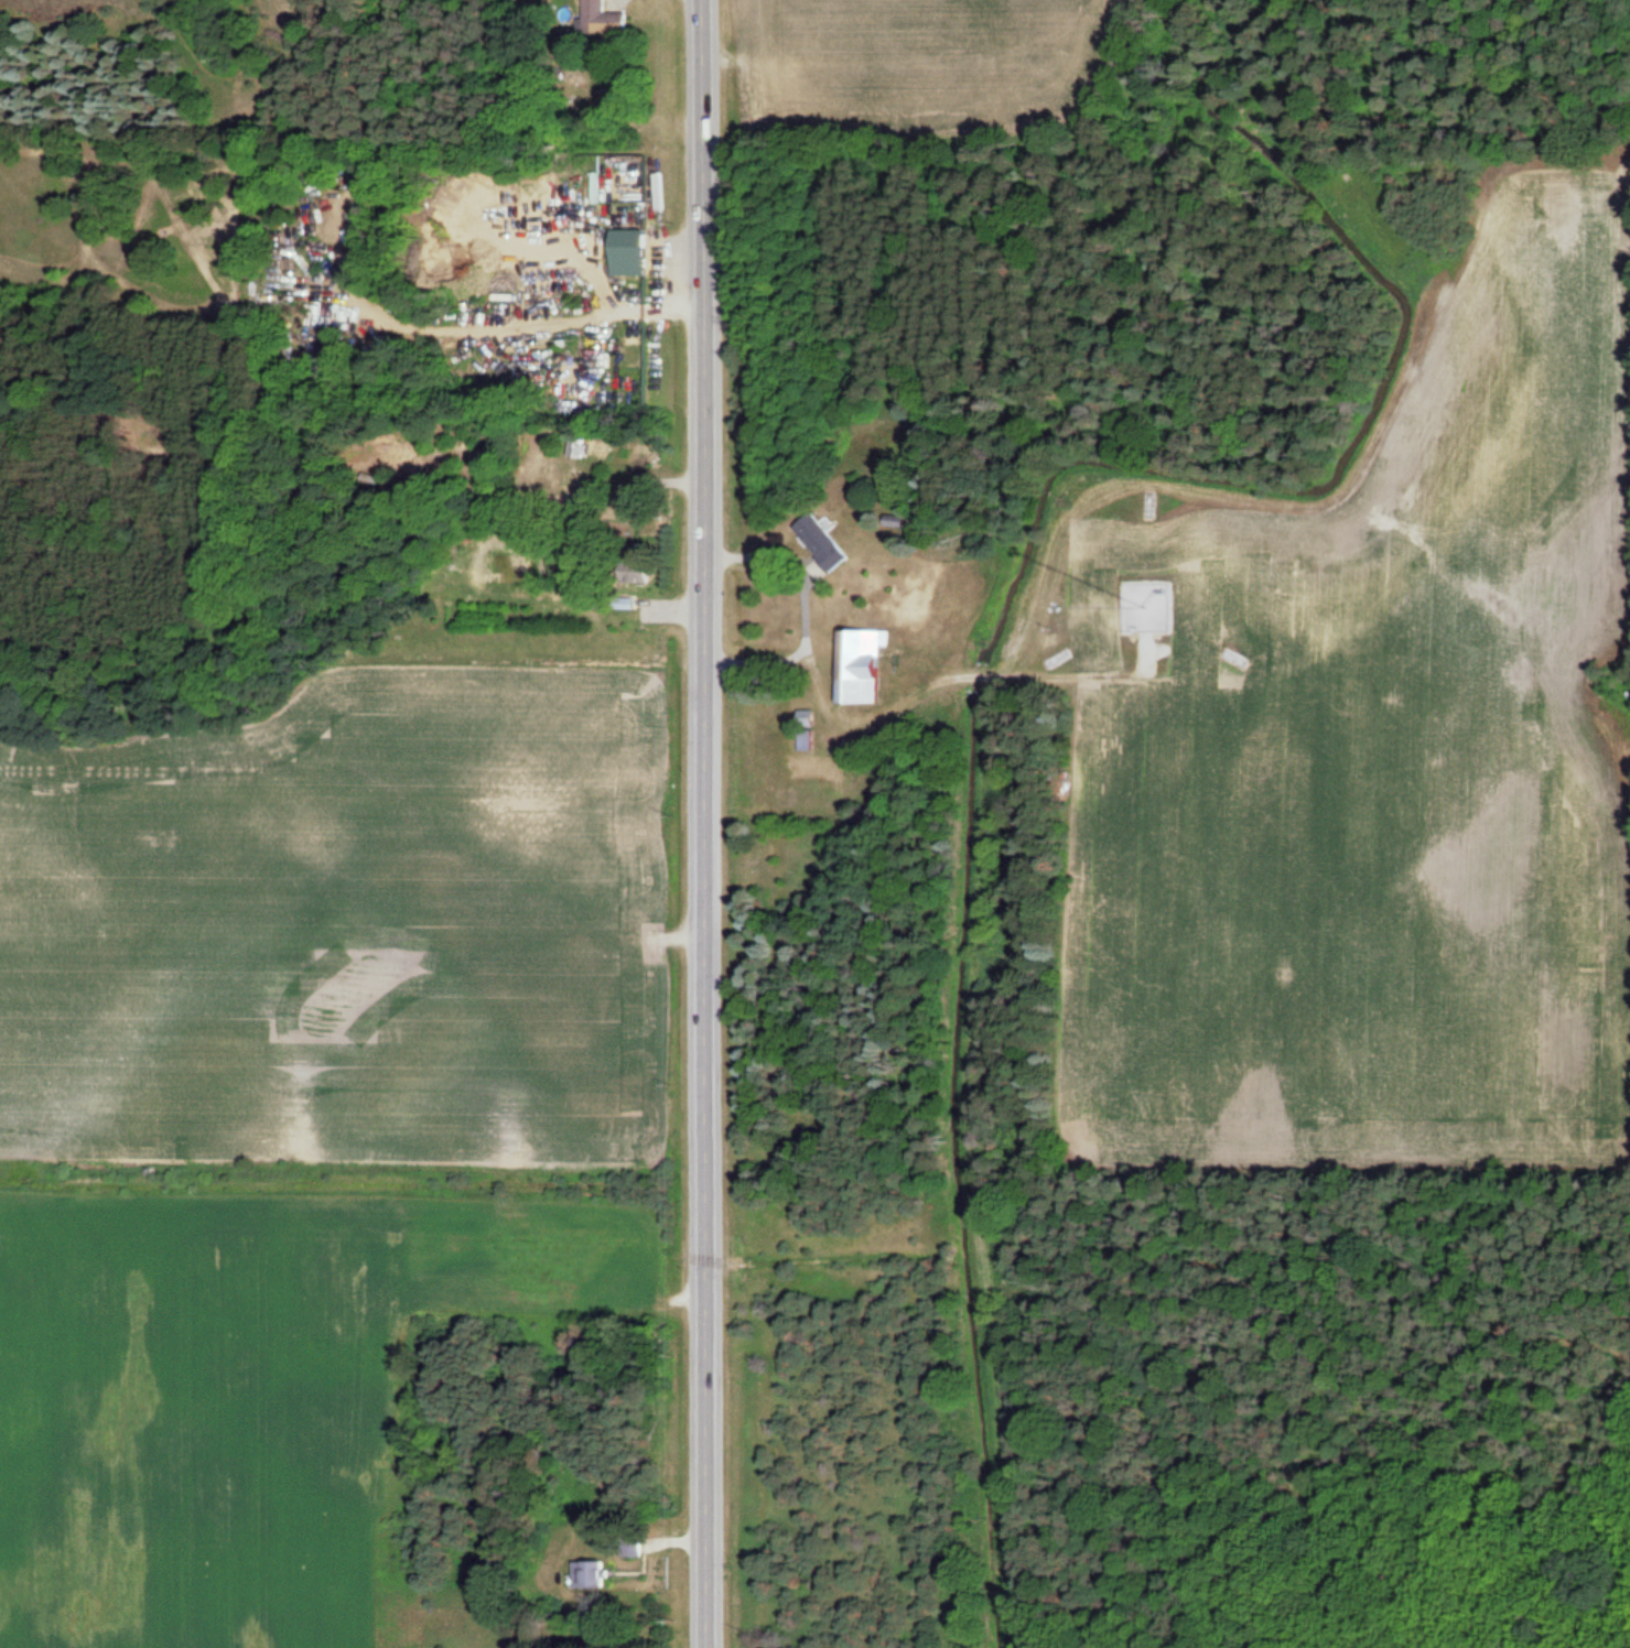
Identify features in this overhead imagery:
building: (604, 19)
building: (623, 188)
building: (602, 442)
building: (824, 541)
building: (641, 571)
building: (867, 665)
building: (811, 737)
road: (703, 824)
building: (595, 1574)

